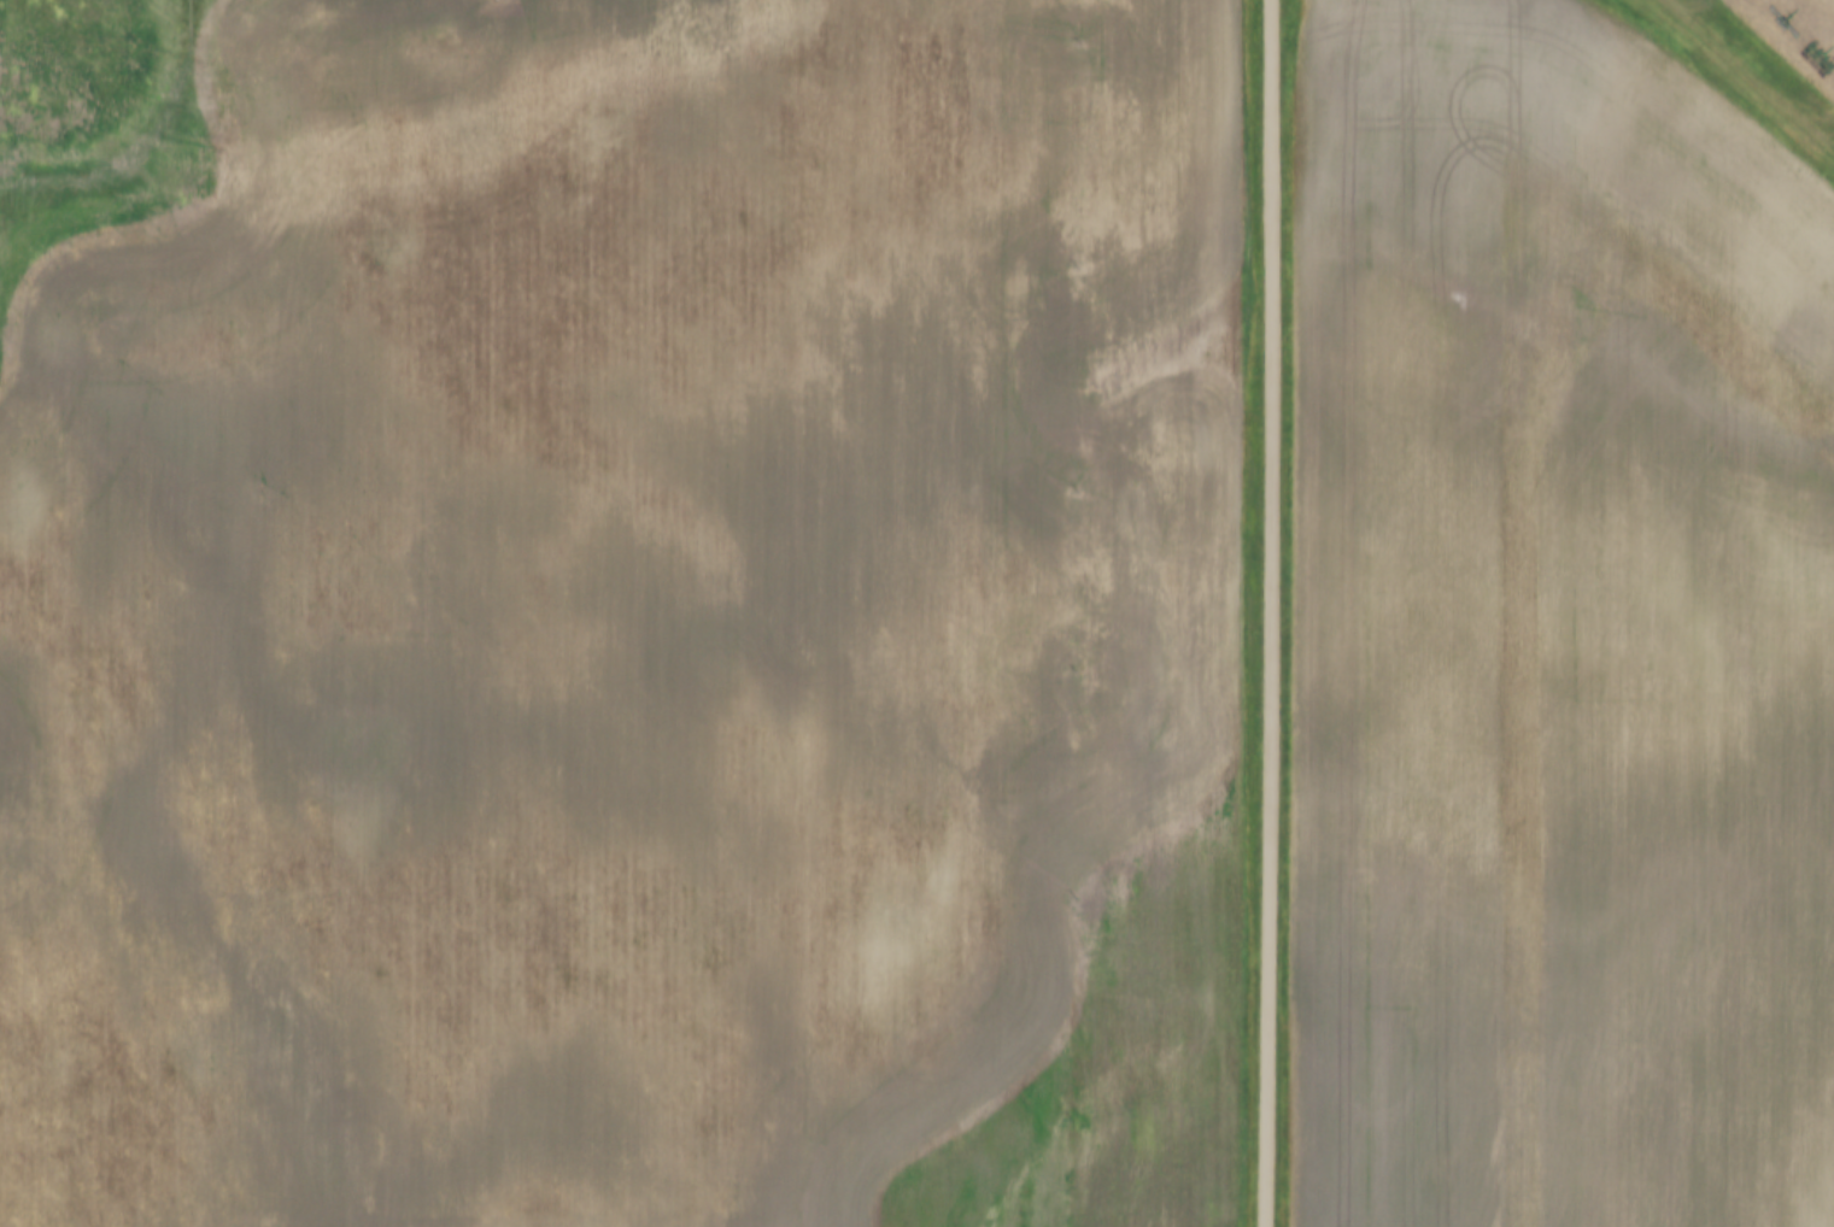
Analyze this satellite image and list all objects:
airport runway: (1748, 77)
road: (1276, 613)

